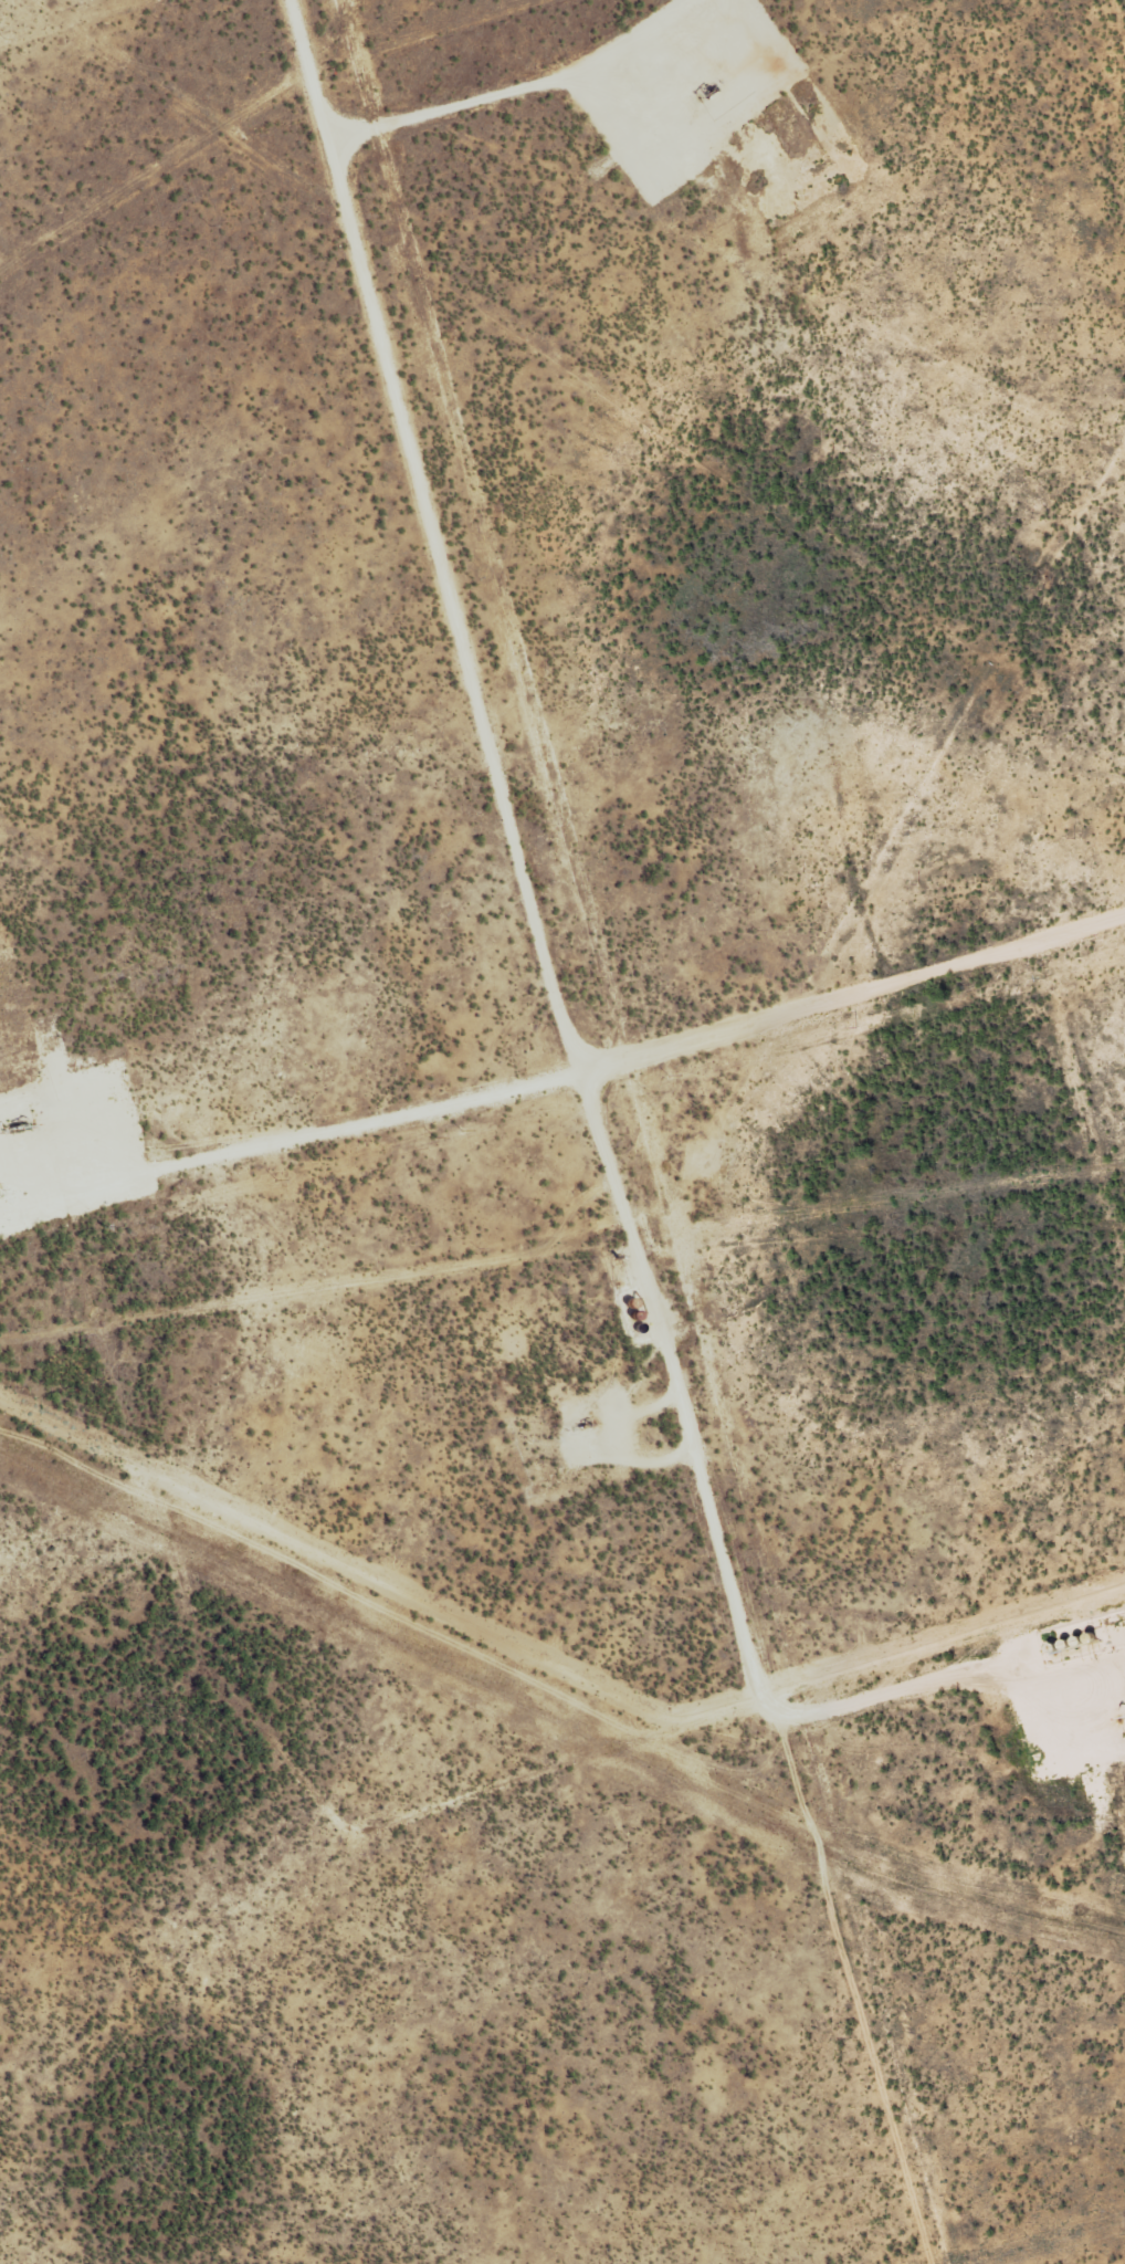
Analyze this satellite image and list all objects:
road: (577, 742)

